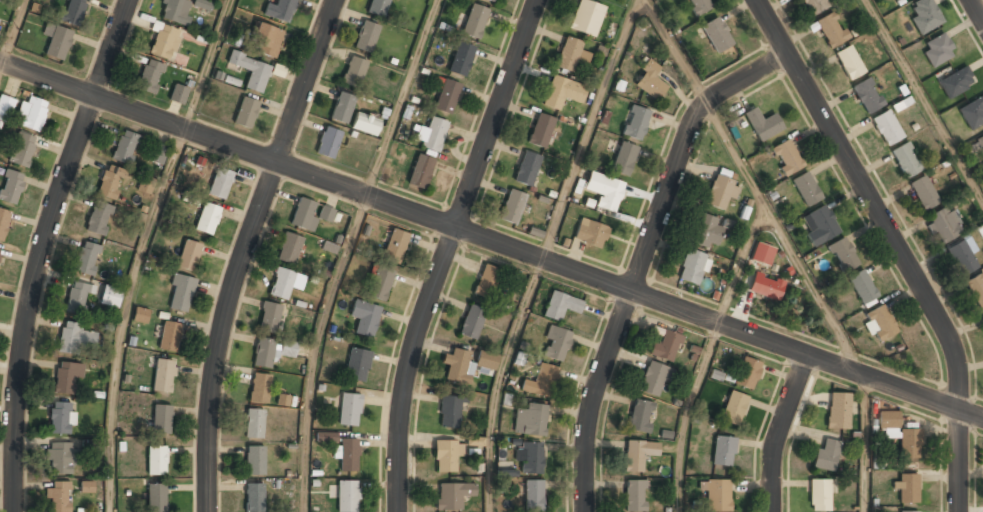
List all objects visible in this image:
building: (490, 0)
building: (894, 0)
building: (899, 1)
building: (202, 4)
building: (699, 6)
building: (814, 6)
building: (377, 8)
building: (174, 10)
building: (280, 10)
building: (73, 11)
road: (976, 11)
building: (925, 15)
building: (585, 18)
building: (475, 20)
building: (830, 29)
road: (11, 31)
building: (366, 37)
building: (718, 38)
building: (267, 41)
building: (58, 42)
building: (164, 42)
building: (937, 49)
building: (569, 55)
building: (461, 58)
building: (848, 62)
road: (209, 65)
building: (251, 70)
building: (353, 72)
building: (150, 76)
building: (649, 81)
building: (955, 81)
building: (562, 93)
building: (177, 94)
building: (446, 95)
building: (867, 95)
road: (402, 97)
road: (923, 103)
building: (6, 107)
building: (342, 108)
building: (246, 112)
building: (972, 112)
building: (31, 114)
building: (635, 122)
building: (763, 123)
building: (365, 124)
building: (886, 127)
road: (590, 129)
building: (541, 131)
building: (431, 134)
building: (981, 141)
building: (328, 142)
building: (124, 147)
building: (21, 150)
building: (157, 154)
building: (786, 157)
building: (624, 159)
building: (906, 159)
building: (526, 169)
building: (420, 171)
building: (110, 183)
building: (220, 183)
building: (146, 184)
building: (10, 186)
road: (752, 188)
building: (806, 189)
building: (720, 190)
building: (604, 191)
building: (923, 193)
building: (512, 206)
building: (307, 214)
building: (98, 219)
building: (207, 219)
building: (3, 221)
building: (819, 226)
building: (944, 226)
building: (591, 232)
building: (706, 232)
road: (491, 240)
road: (895, 244)
building: (395, 245)
building: (0, 249)
road: (41, 249)
road: (244, 249)
building: (289, 249)
road: (446, 251)
building: (762, 253)
building: (188, 256)
building: (843, 256)
building: (962, 257)
road: (642, 258)
building: (87, 259)
road: (741, 264)
building: (692, 267)
building: (486, 281)
building: (380, 283)
building: (282, 284)
building: (765, 286)
building: (862, 286)
building: (975, 289)
building: (181, 294)
building: (110, 296)
building: (78, 297)
building: (560, 305)
building: (141, 315)
road: (123, 316)
building: (364, 317)
building: (269, 318)
building: (982, 318)
building: (471, 321)
building: (880, 323)
building: (170, 337)
building: (71, 338)
building: (555, 343)
building: (665, 346)
building: (287, 348)
road: (316, 349)
building: (264, 353)
building: (357, 364)
building: (466, 364)
building: (747, 373)
building: (163, 376)
building: (66, 378)
building: (654, 378)
building: (541, 380)
road: (497, 381)
building: (260, 388)
building: (283, 400)
building: (734, 407)
building: (349, 409)
building: (838, 411)
building: (449, 412)
road: (685, 414)
building: (640, 416)
building: (61, 418)
building: (161, 420)
building: (530, 420)
building: (254, 424)
road: (780, 431)
building: (900, 434)
building: (326, 437)
building: (475, 441)
road: (863, 444)
building: (723, 451)
building: (638, 454)
building: (348, 455)
building: (827, 455)
building: (447, 456)
building: (530, 457)
building: (60, 458)
building: (157, 461)
building: (255, 461)
building: (507, 473)
building: (906, 486)
building: (87, 487)
building: (819, 494)
building: (716, 495)
building: (347, 496)
building: (453, 496)
building: (533, 496)
building: (634, 496)
building: (58, 497)
building: (156, 498)
building: (254, 498)
building: (910, 511)

